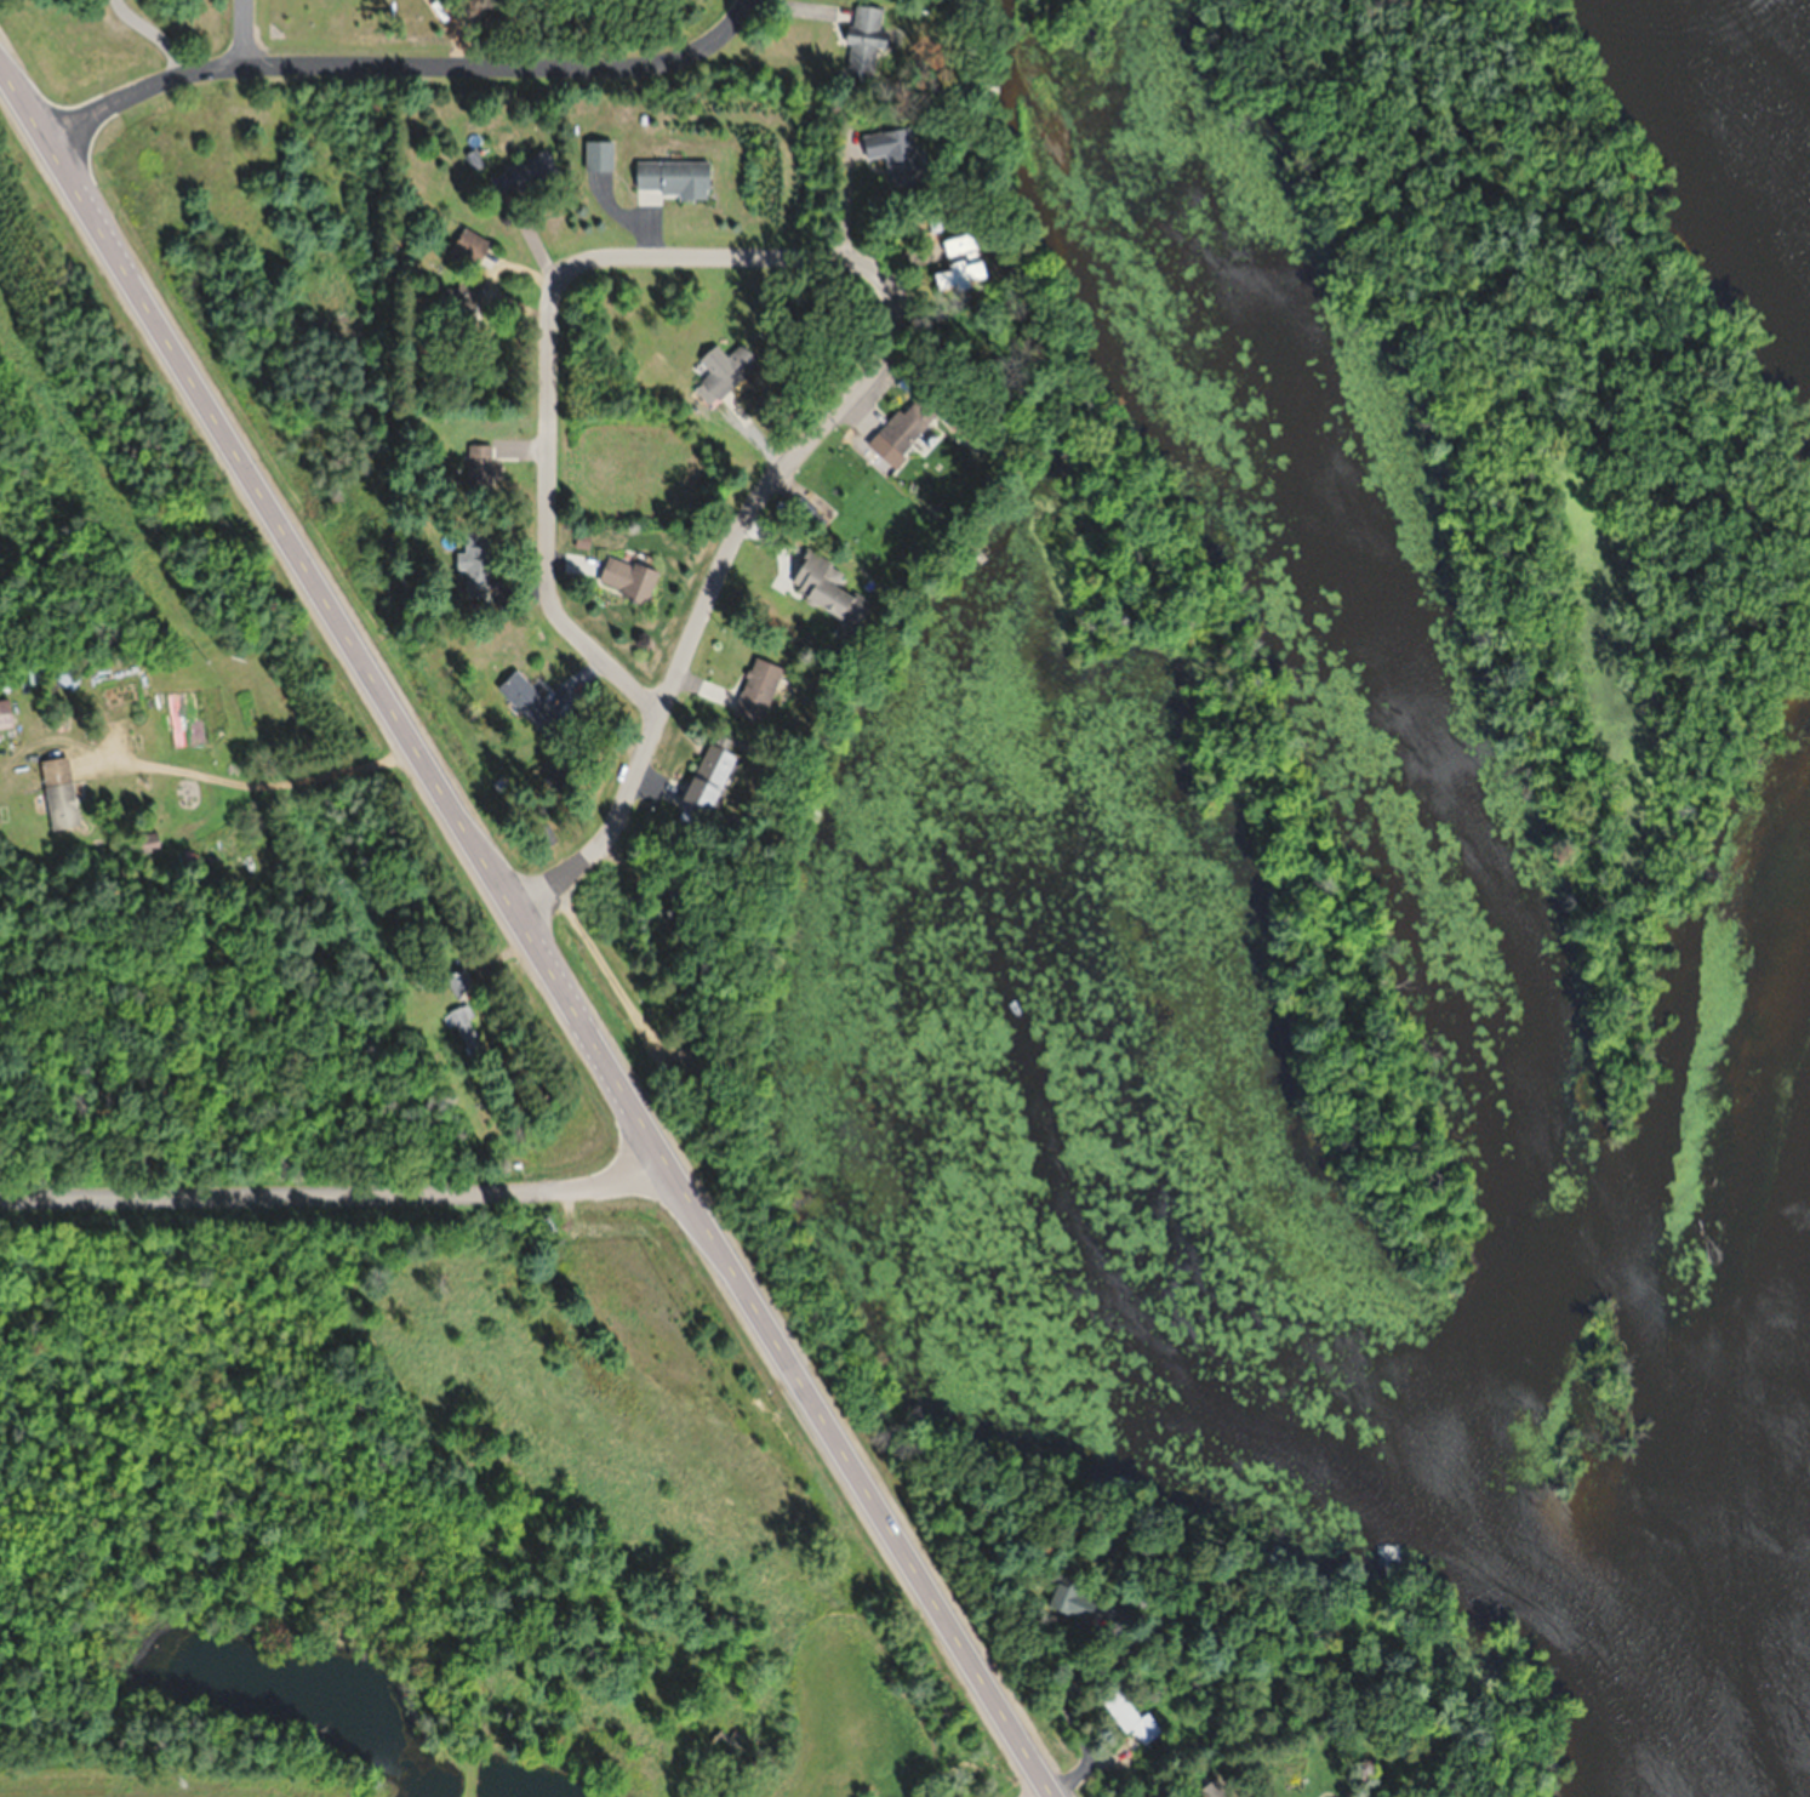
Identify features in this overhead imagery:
road: (250, 30)
building: (864, 39)
road: (396, 63)
building: (896, 155)
building: (598, 156)
building: (524, 175)
building: (674, 178)
building: (960, 244)
building: (469, 246)
building: (960, 275)
building: (470, 289)
building: (725, 373)
road: (862, 382)
building: (913, 416)
building: (479, 464)
road: (544, 489)
building: (476, 563)
building: (628, 577)
building: (828, 587)
building: (68, 677)
building: (759, 689)
building: (526, 700)
building: (5, 714)
building: (708, 780)
building: (59, 792)
road: (605, 826)
building: (150, 838)
road: (523, 936)
building: (459, 981)
building: (464, 1026)
building: (689, 1056)
road: (332, 1196)
building: (1725, 1221)
building: (1069, 1595)
building: (1130, 1716)

